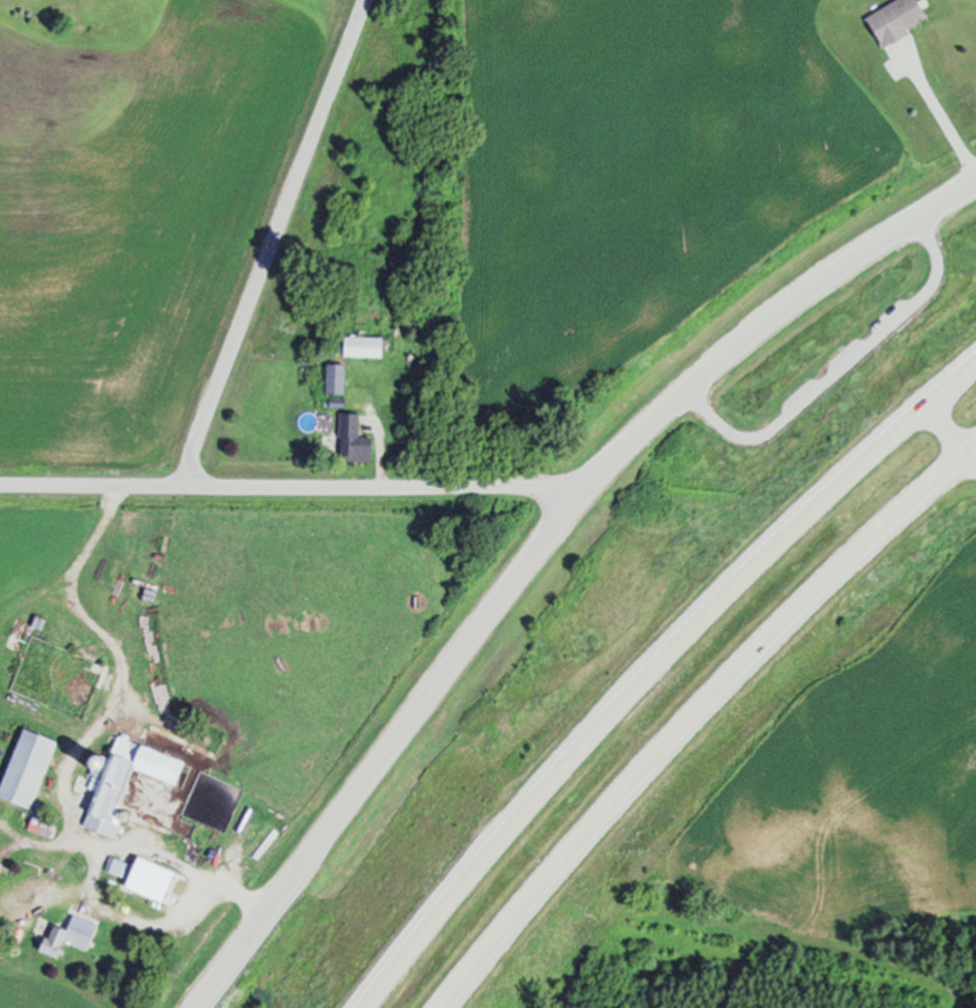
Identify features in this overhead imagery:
building: (896, 19)
road: (943, 117)
road: (274, 242)
building: (365, 346)
road: (845, 370)
building: (336, 378)
building: (338, 401)
road: (952, 432)
building: (355, 439)
road: (290, 488)
road: (540, 550)
road: (653, 669)
road: (120, 687)
road: (695, 716)
building: (28, 768)
building: (123, 781)
building: (42, 827)
building: (116, 866)
building: (151, 879)
road: (188, 914)
building: (70, 936)

